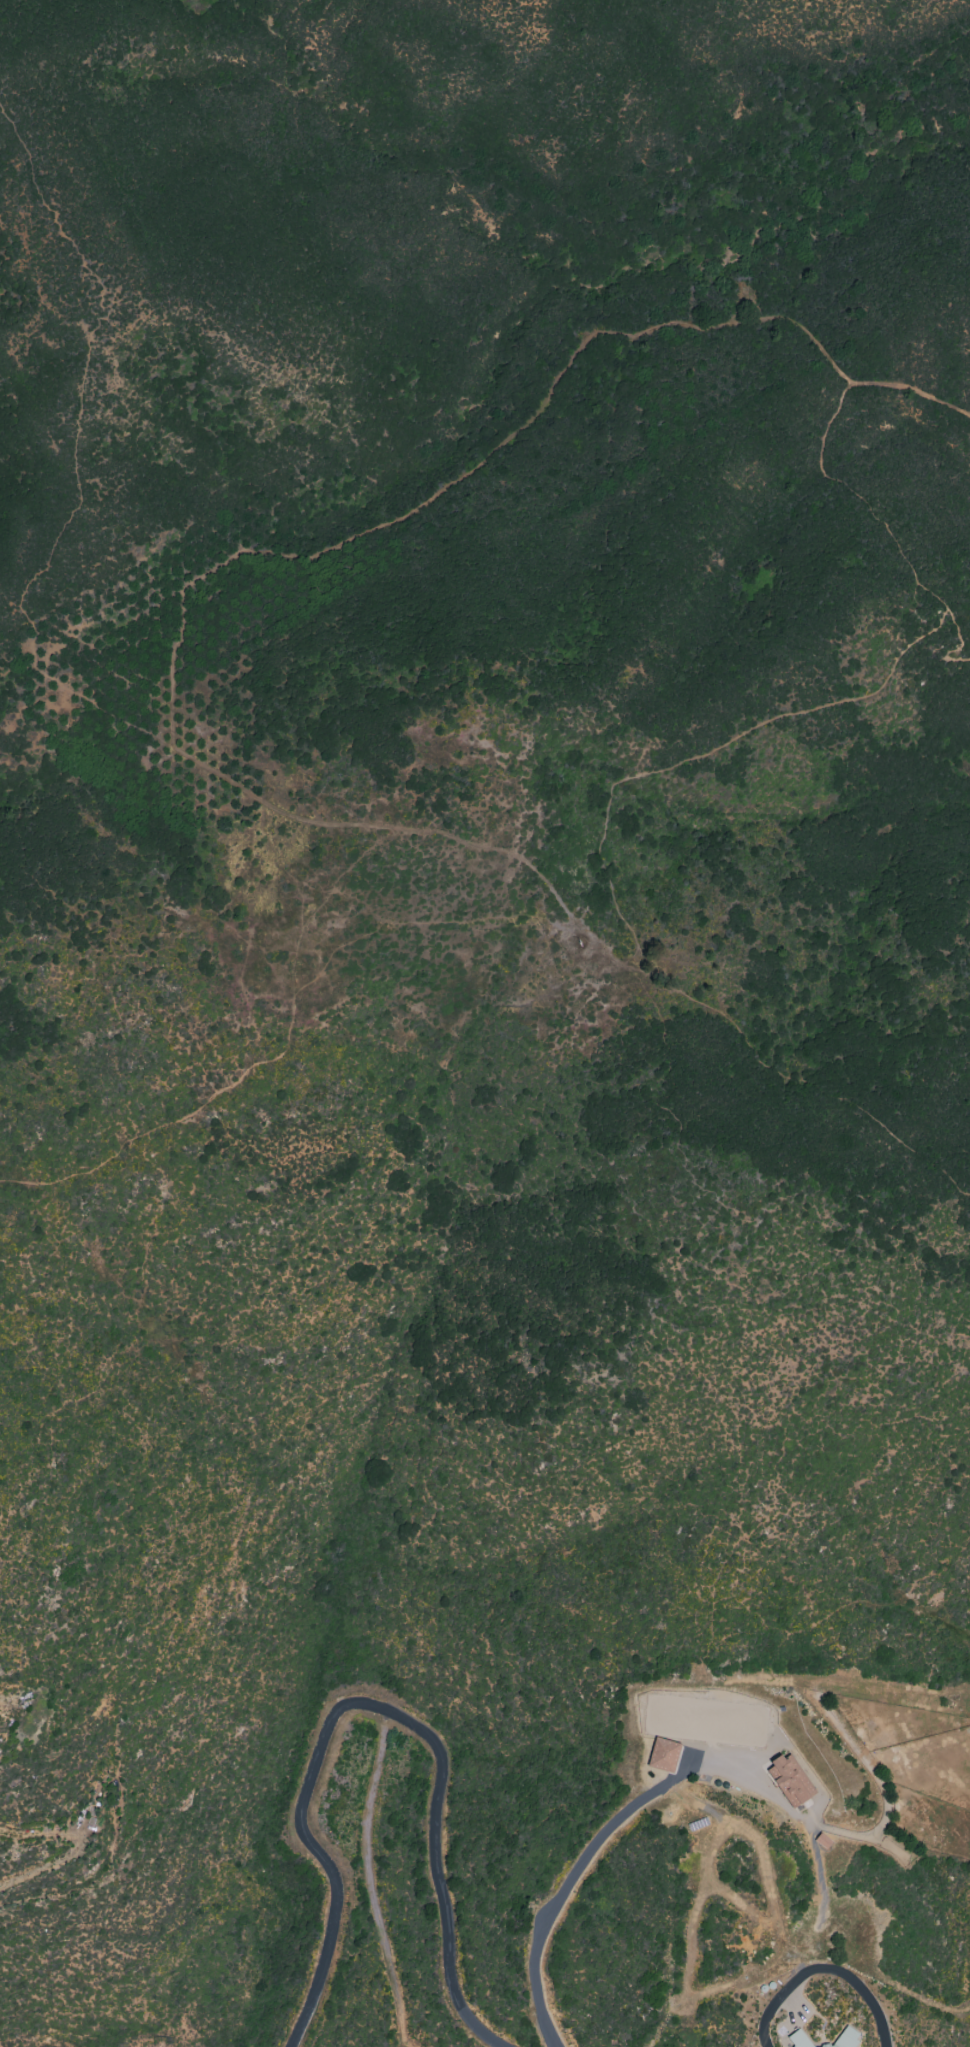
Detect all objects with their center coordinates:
road: (845, 484)
road: (337, 548)
road: (719, 750)
road: (445, 835)
road: (640, 961)
road: (376, 1710)
building: (663, 1755)
building: (790, 1780)
road: (577, 1867)
road: (860, 1988)
road: (778, 2007)
building: (798, 2039)
building: (845, 2039)

